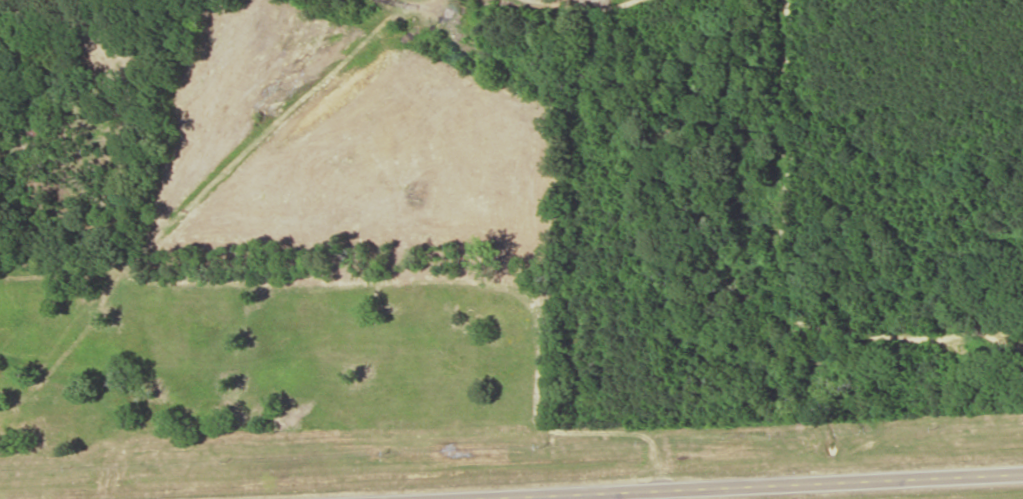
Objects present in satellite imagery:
road: (725, 485)

